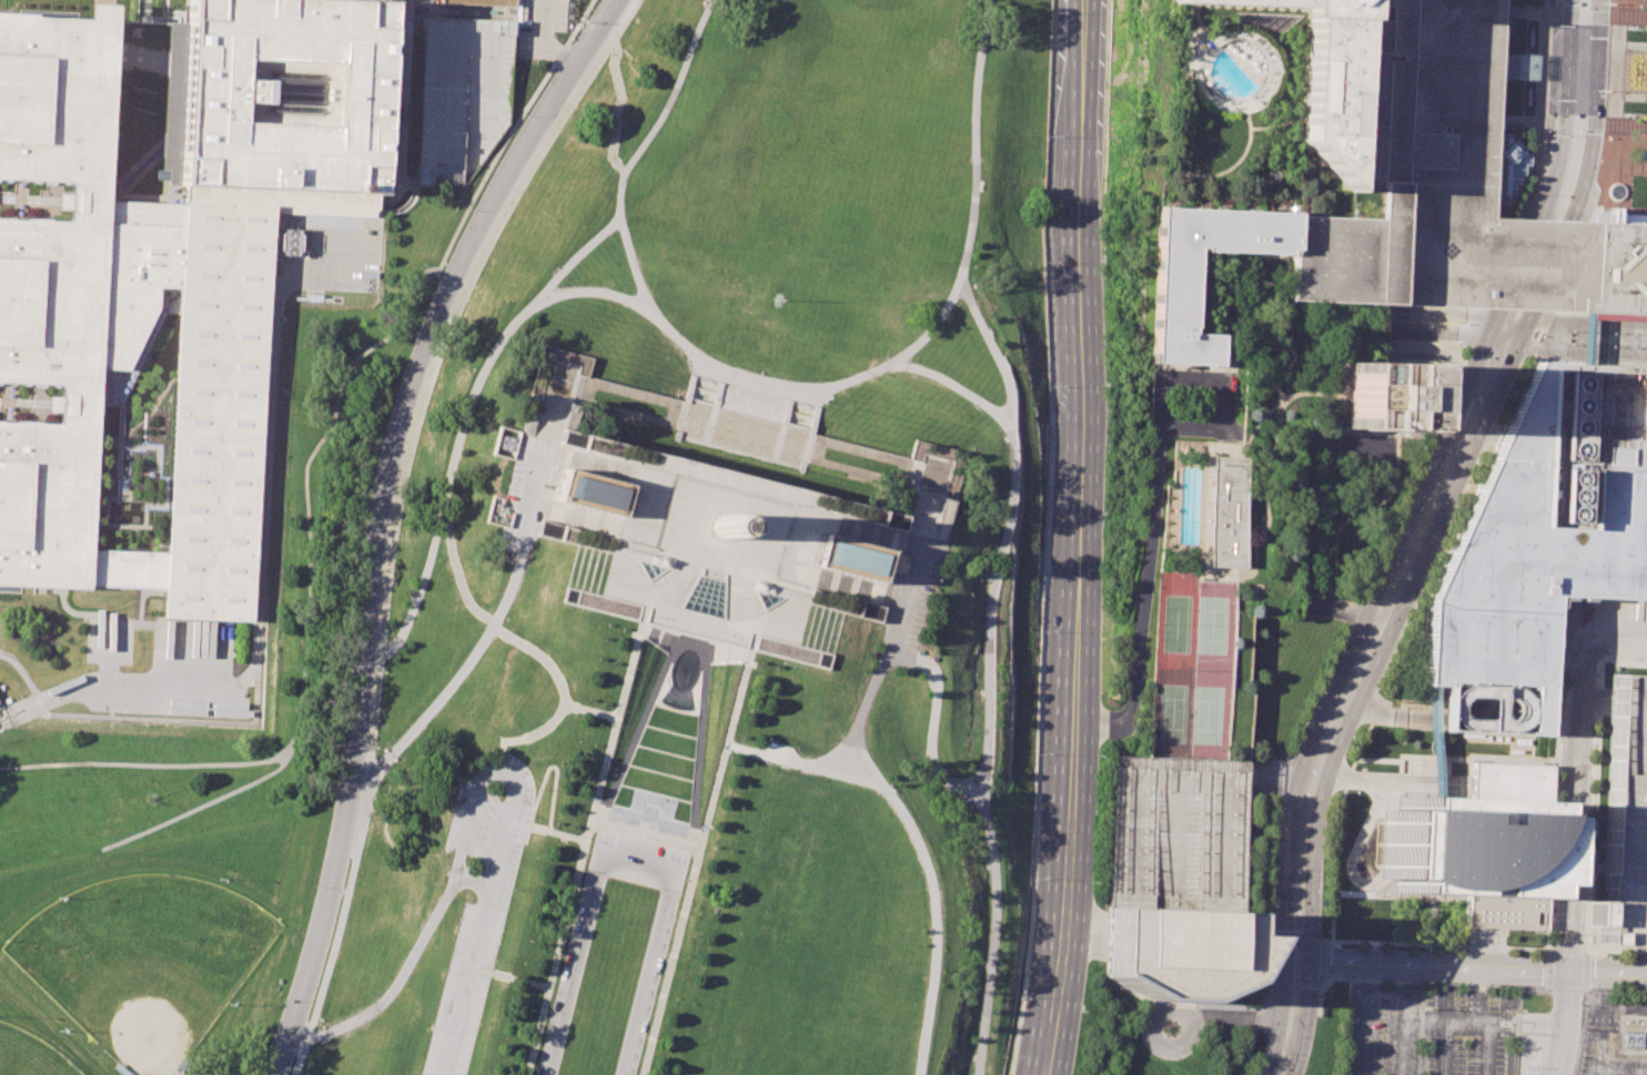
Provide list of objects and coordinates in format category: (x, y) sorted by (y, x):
building: (485, 1)
street lamp: (1550, 3)
street lamp: (1055, 11)
street lamp: (1110, 12)
road: (1525, 12)
road: (1550, 12)
road: (1584, 13)
parking lot: (537, 23)
street lamp: (580, 27)
street lamp: (554, 34)
road: (607, 36)
fountain: (1530, 36)
road: (540, 40)
road: (1633, 44)
street lamp: (536, 60)
road: (1539, 60)
road: (1517, 67)
road: (1263, 71)
fountain: (1646, 71)
building: (1320, 74)
road: (1532, 78)
road: (1617, 83)
building: (461, 93)
parking lot: (461, 93)
fountain: (1528, 97)
road: (1631, 98)
road: (406, 111)
road: (1566, 112)
road: (1595, 112)
street lamp: (1548, 114)
street lamp: (525, 115)
road: (1546, 121)
road: (1578, 122)
street lamp: (1051, 135)
street lamp: (1105, 135)
road: (1600, 145)
road: (1536, 168)
building: (1505, 169)
road: (1605, 176)
road: (411, 185)
building: (1392, 190)
building: (1489, 192)
street lamp: (1538, 193)
street lamp: (471, 210)
road: (367, 230)
road: (454, 233)
street lamp: (1101, 260)
street lamp: (1049, 261)
road: (1502, 261)
road: (1522, 265)
road: (1552, 266)
road: (1568, 266)
building: (165, 268)
road: (593, 292)
flagpole: (780, 301)
street lamp: (424, 310)
road: (1519, 337)
road: (1586, 339)
road: (992, 351)
street lamp: (1467, 355)
road: (436, 369)
street lamp: (1514, 374)
street lamp: (1105, 384)
street lamp: (1054, 386)
road: (788, 389)
building: (553, 392)
fountain: (704, 396)
building: (1381, 399)
street lamp: (1444, 407)
fountain: (800, 420)
road: (119, 422)
street lamp: (384, 422)
road: (463, 425)
street lamp: (999, 428)
street lamp: (1488, 430)
road: (746, 434)
street lamp: (1421, 460)
road: (1431, 467)
road: (1458, 474)
road: (156, 479)
street lamp: (1465, 481)
road: (1155, 484)
parking lot: (527, 485)
road: (1376, 491)
road: (728, 497)
road: (104, 504)
street lamp: (1051, 510)
street lamp: (1103, 511)
building: (1231, 511)
road: (378, 515)
road: (779, 524)
building: (926, 526)
street lamp: (360, 531)
road: (599, 535)
road: (1048, 538)
railway: (1058, 538)
road: (1079, 538)
railway: (1100, 538)
building: (717, 546)
building: (1542, 547)
road: (713, 564)
road: (263, 568)
street lamp: (1372, 572)
park: (725, 574)
parking lot: (912, 588)
road: (655, 594)
street lamp: (1416, 594)
road: (836, 595)
road: (757, 597)
road: (845, 597)
road: (901, 600)
road: (825, 617)
road: (881, 617)
road: (748, 619)
park: (1178, 622)
park: (1215, 623)
street lamp: (1047, 631)
road: (504, 633)
street lamp: (1103, 638)
road: (479, 648)
street lamp: (1338, 651)
street lamp: (347, 656)
road: (816, 658)
road: (828, 662)
road: (20, 668)
street lamp: (1382, 671)
street lamp: (1594, 675)
road: (1322, 681)
fountain: (680, 693)
road: (6, 702)
road: (40, 702)
street lamp: (983, 711)
park: (1174, 711)
park: (1212, 712)
road: (1373, 718)
road: (184, 719)
street lamp: (1305, 727)
road: (526, 740)
road: (1434, 743)
street lamp: (1350, 744)
road: (930, 746)
street lamp: (1592, 746)
road: (290, 747)
road: (837, 747)
road: (629, 751)
park: (211, 755)
road: (801, 763)
street lamp: (335, 770)
road: (556, 777)
road: (1367, 778)
road: (478, 782)
street lamp: (875, 791)
street lamp: (1588, 803)
road: (198, 805)
road: (1592, 810)
street lamp: (1279, 811)
street lamp: (1327, 814)
building: (1628, 822)
parking lot: (1628, 822)
road: (519, 824)
parking lot: (1178, 832)
road: (1575, 832)
street lamp: (590, 842)
road: (1304, 848)
building: (1479, 848)
street lamp: (1587, 854)
road: (583, 858)
road: (629, 863)
street lamp: (687, 866)
road: (691, 871)
street lamp: (1033, 879)
road: (474, 881)
street lamp: (1094, 883)
street lamp: (313, 888)
parking lot: (477, 899)
street lamp: (1274, 900)
street lamp: (1321, 903)
street lamp: (926, 916)
road: (994, 926)
street lamp: (568, 929)
road: (336, 931)
street lamp: (1584, 934)
street lamp: (1378, 947)
street lamp: (1452, 950)
road: (1585, 950)
road: (1566, 951)
street lamp: (666, 952)
building: (1176, 953)
street lamp: (1525, 953)
street lamp: (1608, 957)
park: (144, 962)
traffic signals: (1300, 966)
road: (1473, 970)
road: (511, 976)
street lamp: (1346, 978)
street lamp: (1271, 982)
street lamp: (1316, 996)
street lamp: (1019, 1000)
street lamp: (282, 1002)
street lamp: (1081, 1010)
street lamp: (547, 1012)
road: (1229, 1016)
parking lot: (1429, 1031)
street lamp: (645, 1036)
park: (29, 1055)
street lamp: (912, 1056)
parking lot: (1606, 1057)
street lamp: (1256, 1065)

